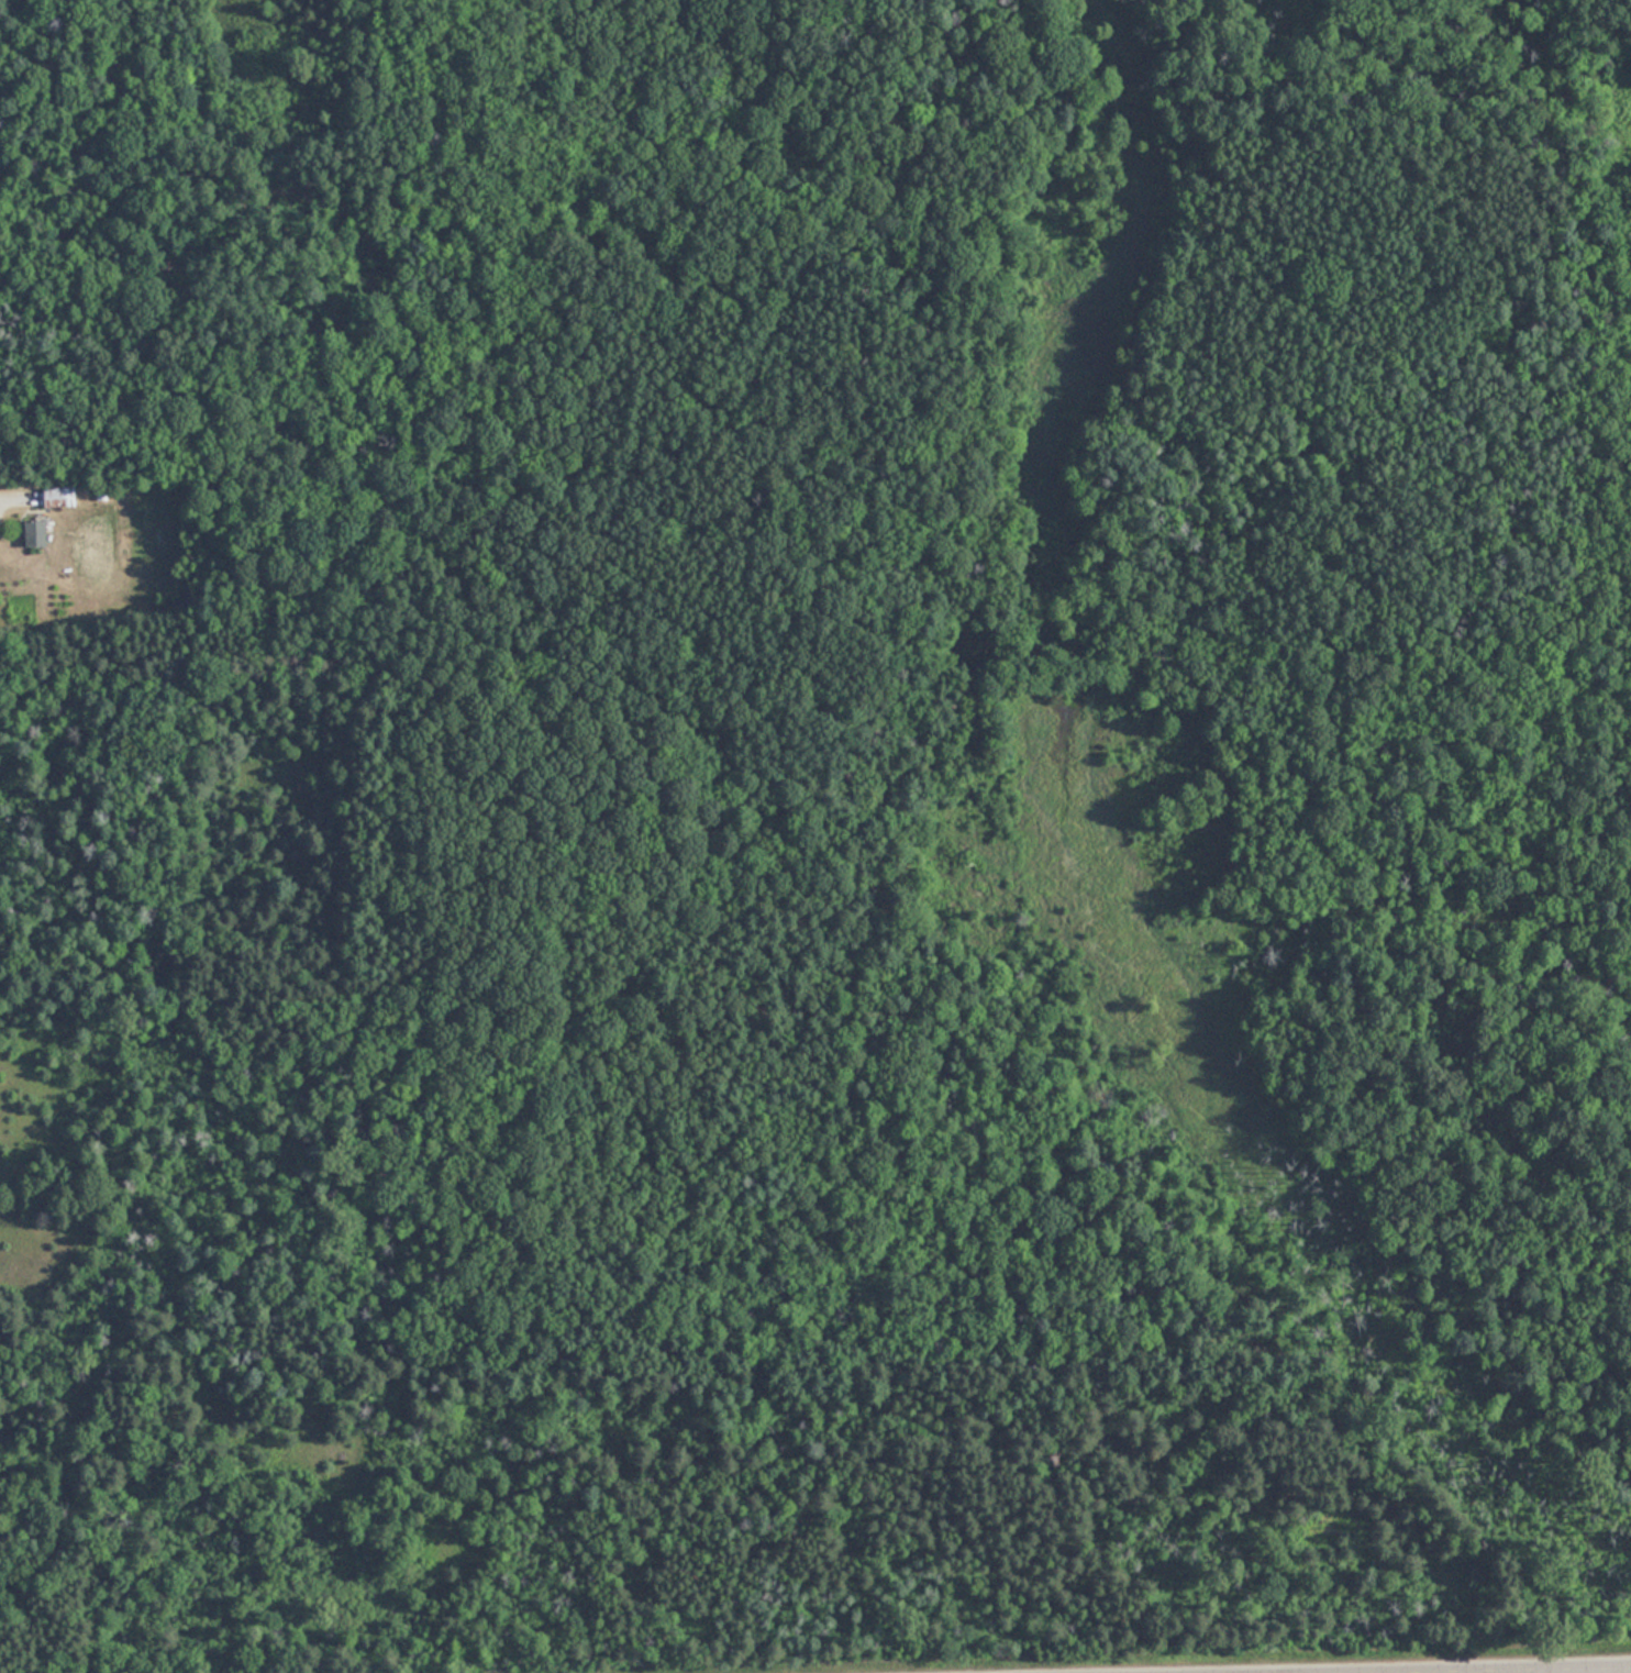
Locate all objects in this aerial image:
building: (60, 496)
building: (38, 533)
park: (861, 866)

